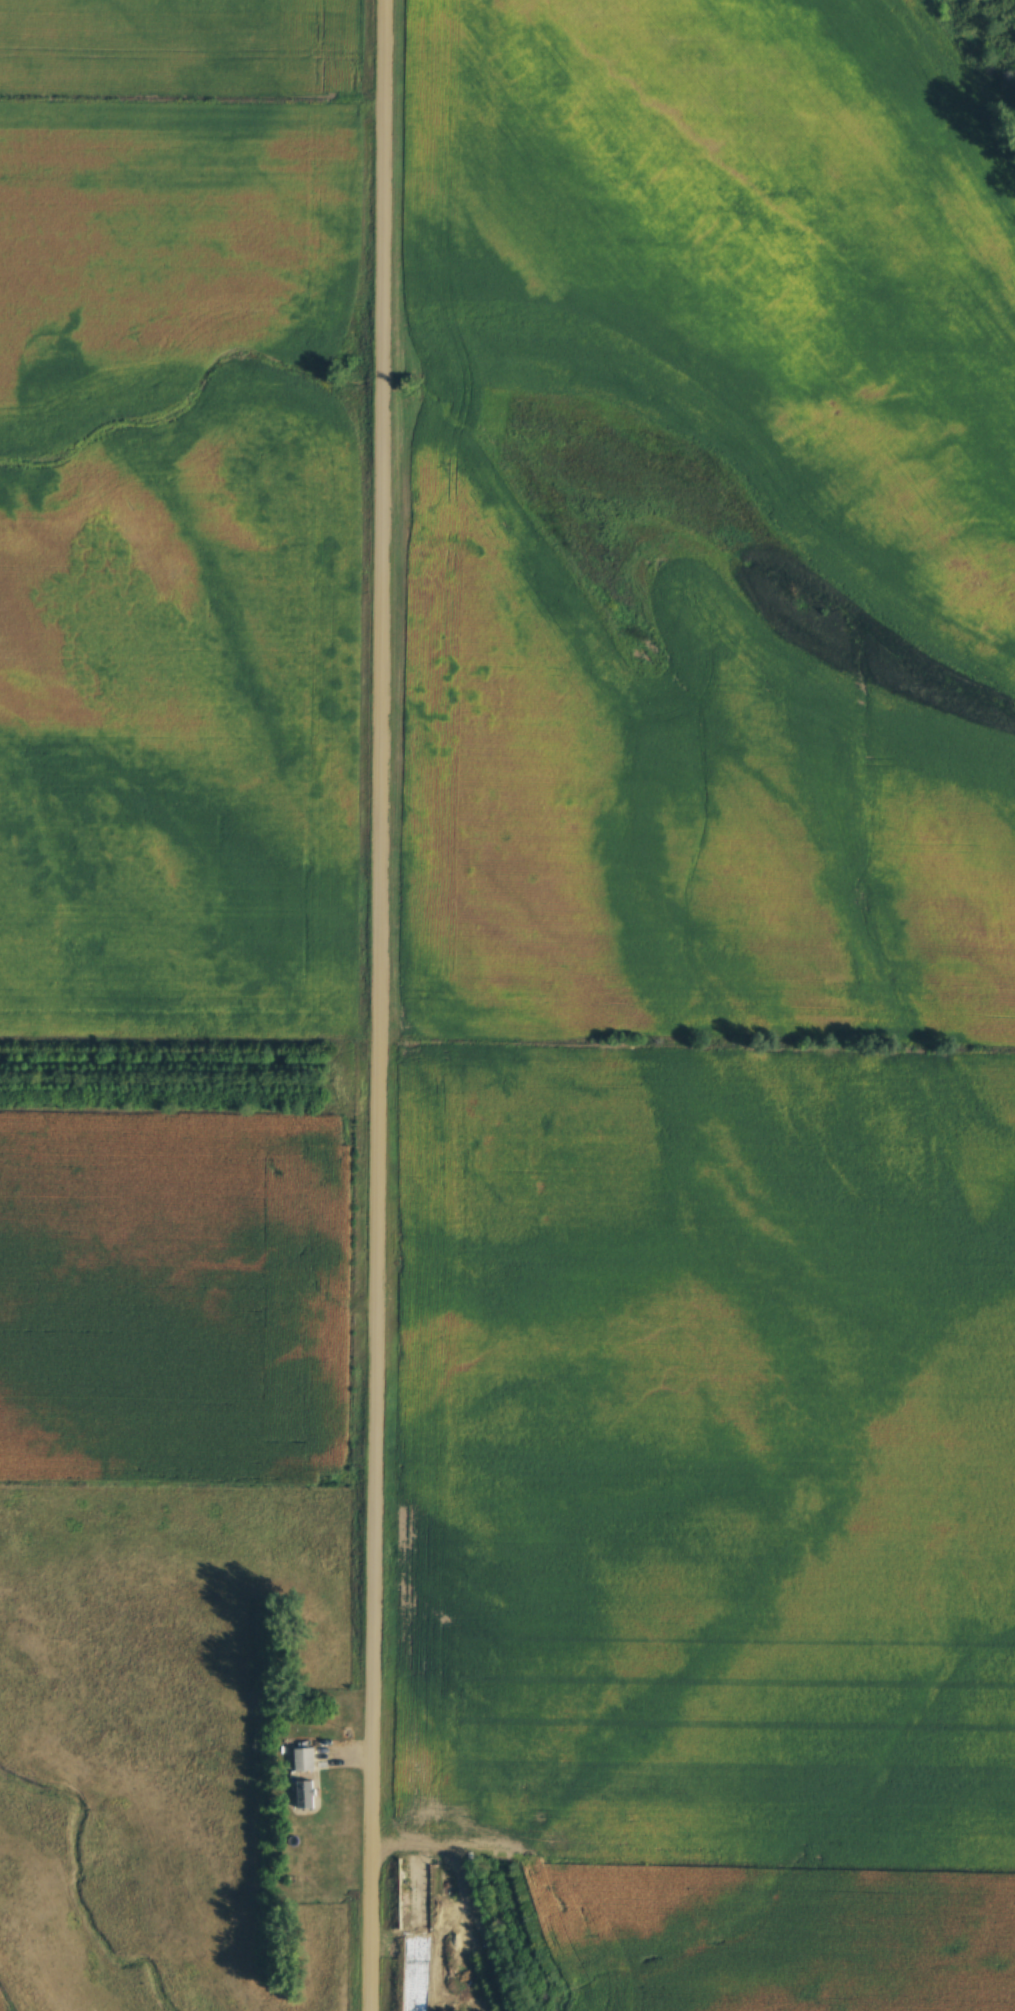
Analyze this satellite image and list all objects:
road: (376, 1005)
crop: (175, 1297)
building: (306, 1779)

